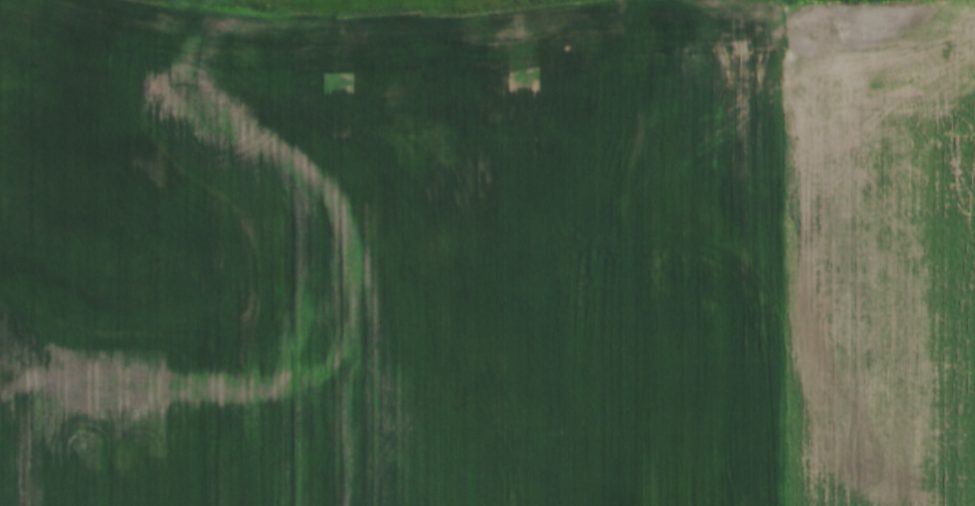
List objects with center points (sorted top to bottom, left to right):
road: (792, 252)

